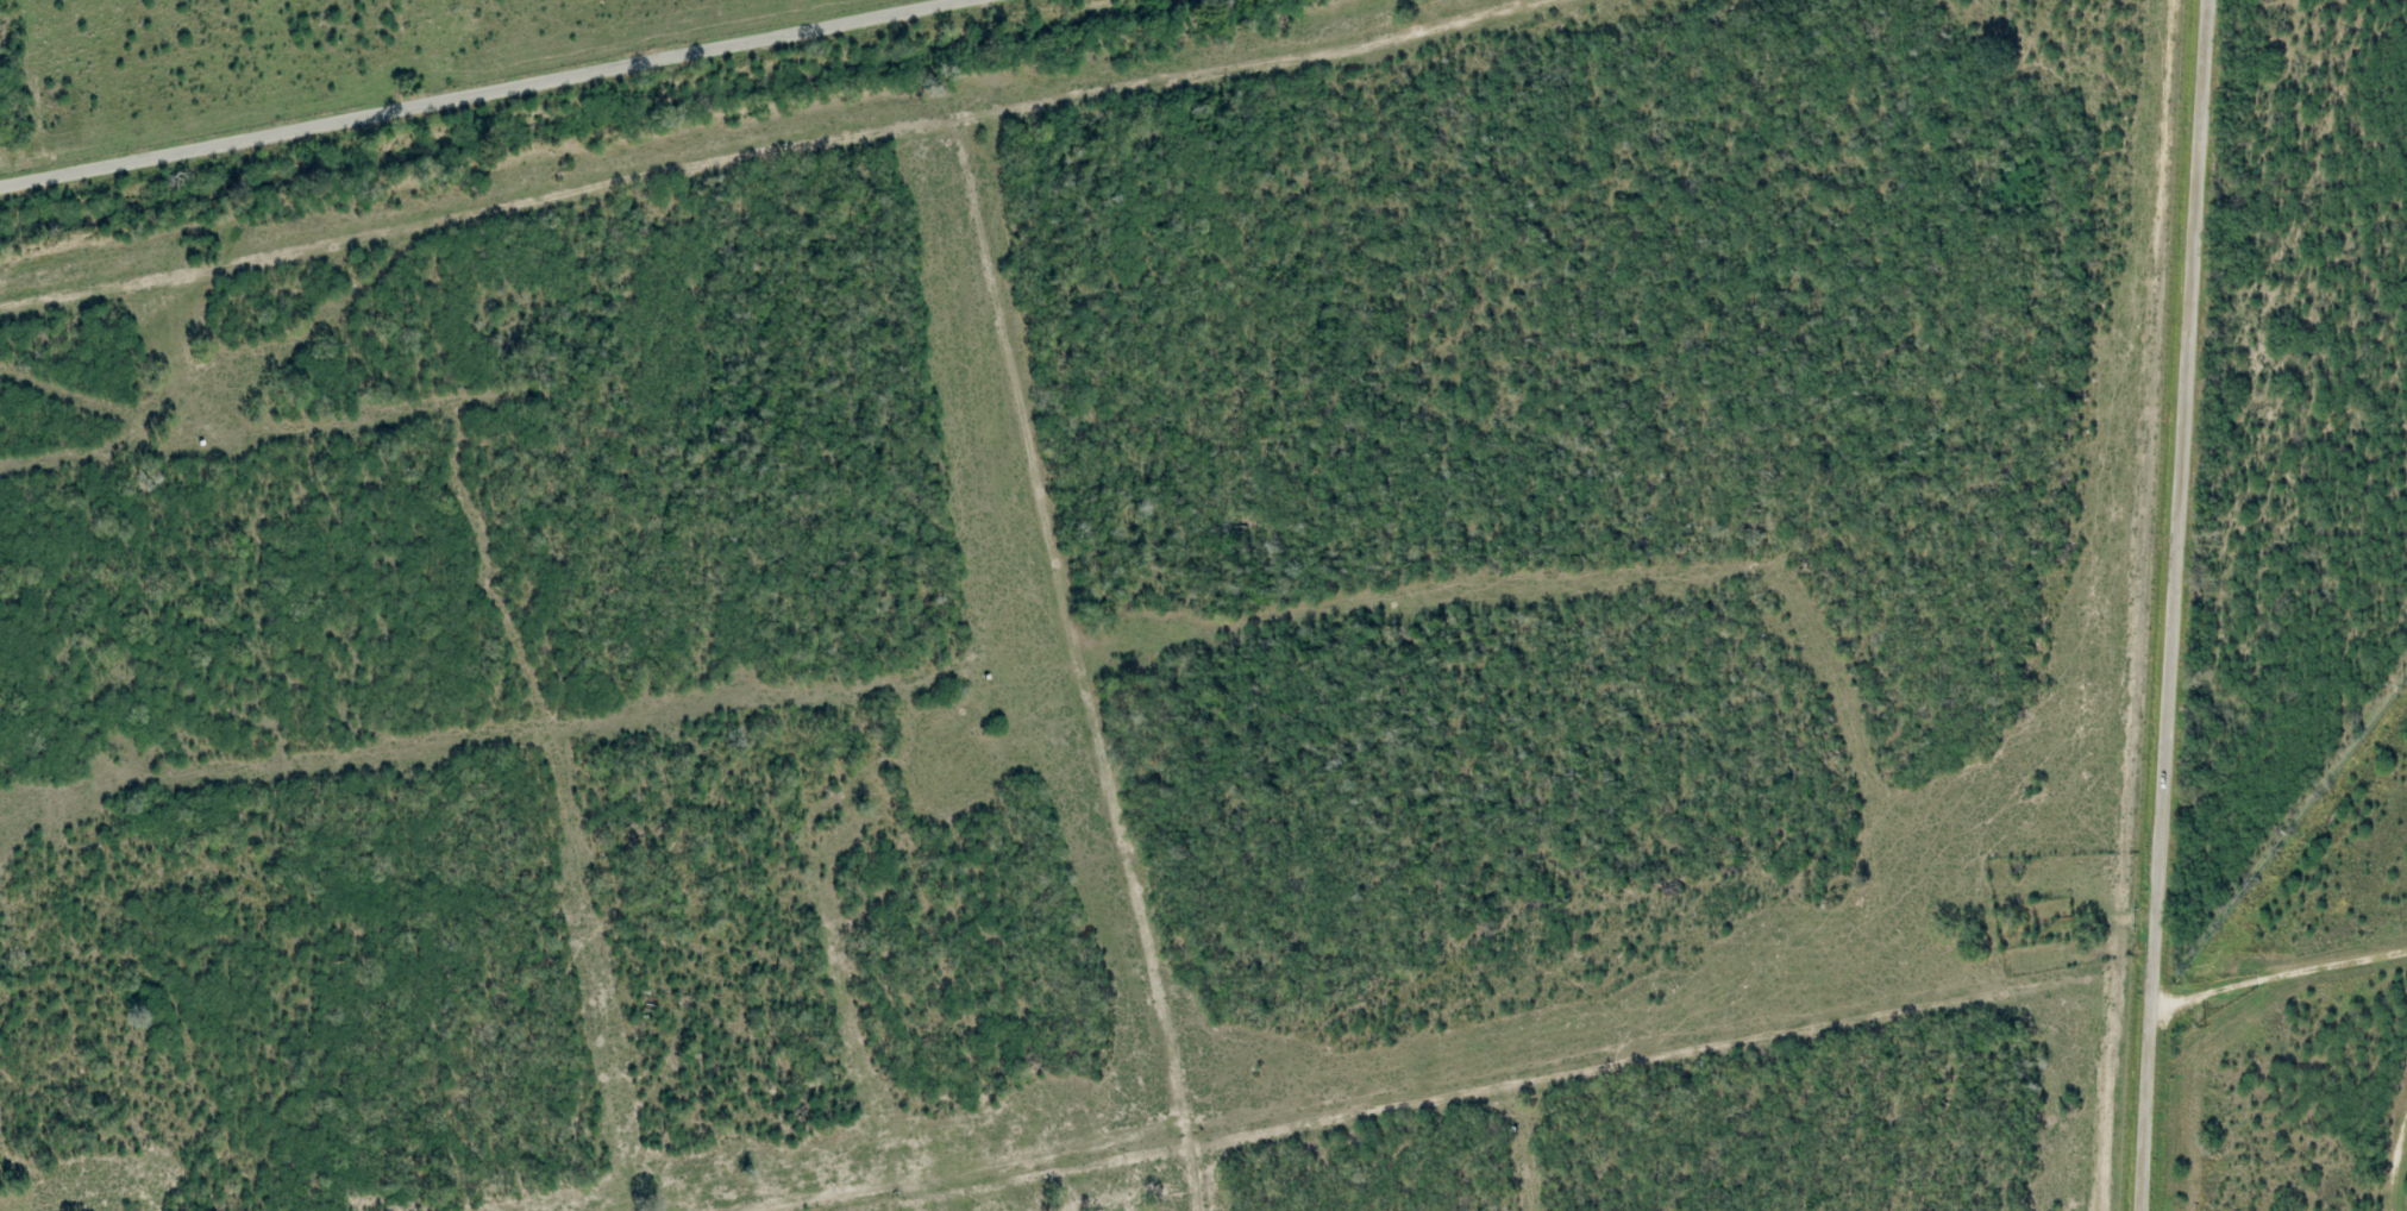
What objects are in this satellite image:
road: (477, 92)
road: (2179, 604)

